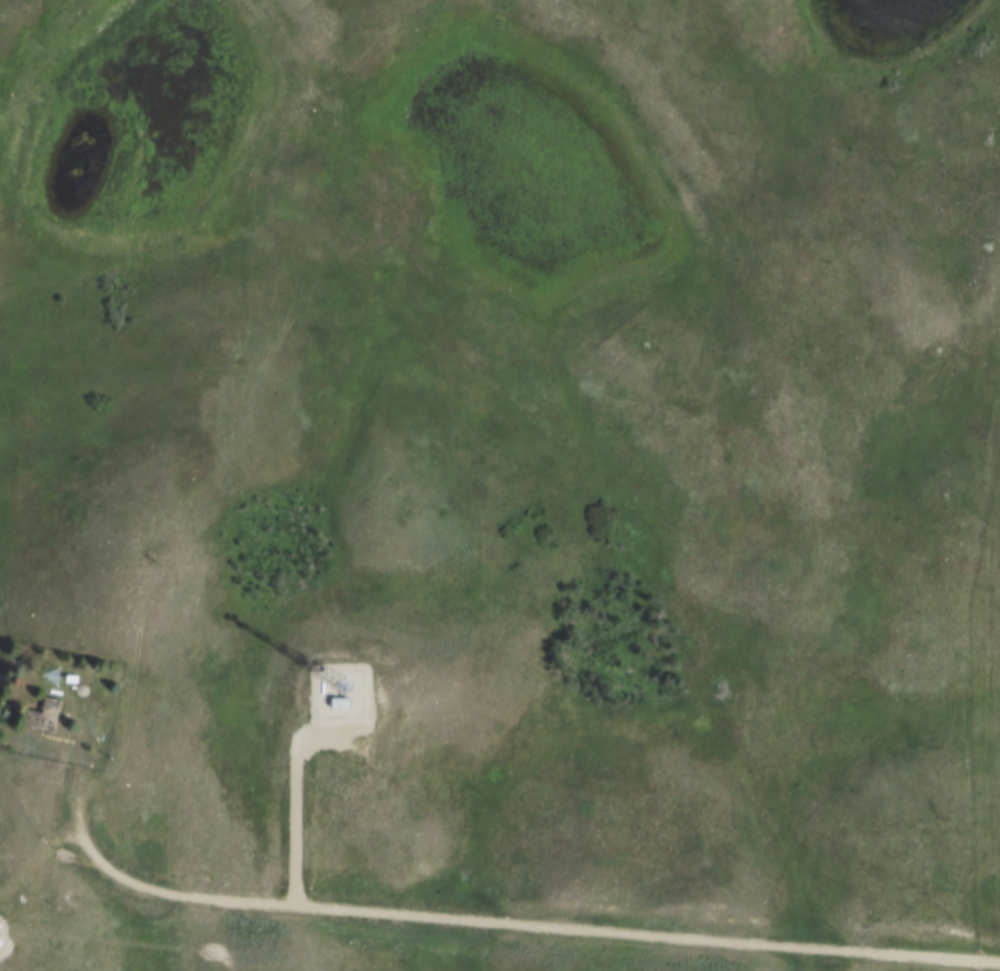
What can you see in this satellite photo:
building: (76, 680)
storage tank: (325, 687)
storage tank: (57, 692)
building: (347, 705)
building: (46, 717)
road: (532, 922)
building: (2, 944)

